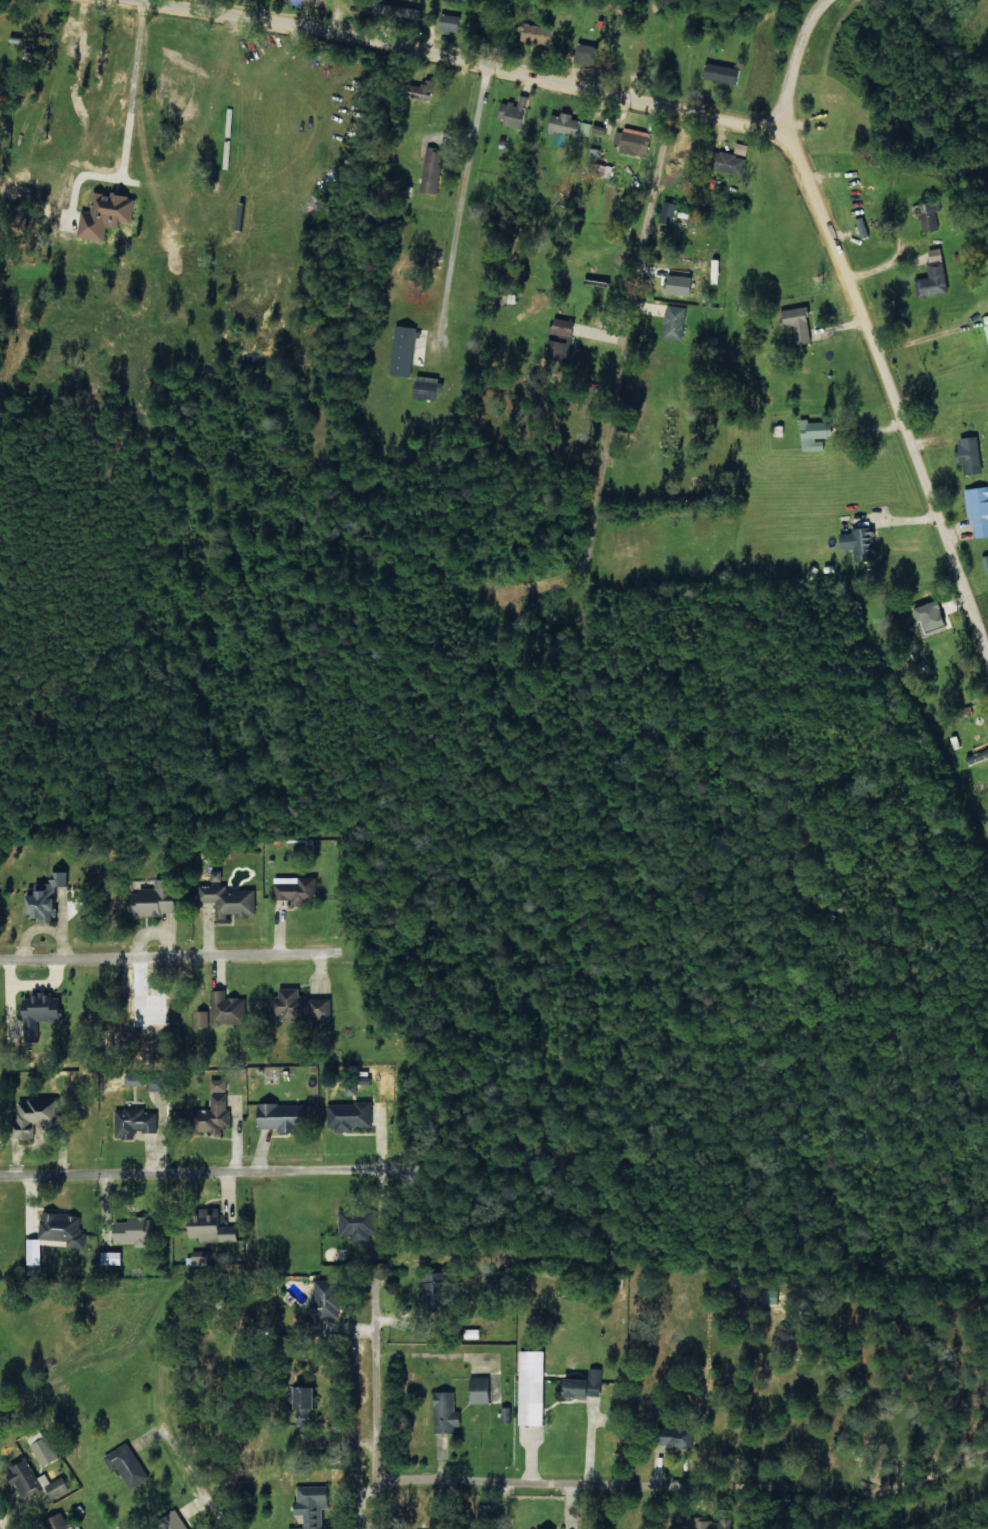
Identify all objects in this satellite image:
building: (399, 10)
building: (447, 22)
building: (536, 33)
building: (583, 54)
road: (799, 61)
road: (398, 62)
building: (719, 73)
building: (421, 91)
building: (512, 113)
building: (566, 125)
building: (633, 141)
building: (739, 148)
building: (726, 162)
building: (429, 170)
road: (459, 211)
building: (666, 212)
building: (108, 214)
building: (928, 215)
building: (933, 254)
building: (932, 281)
building: (677, 284)
road: (635, 291)
building: (673, 321)
building: (795, 323)
building: (985, 326)
building: (557, 338)
building: (402, 351)
road: (883, 383)
building: (426, 388)
building: (777, 430)
building: (812, 434)
building: (967, 455)
building: (977, 509)
building: (857, 542)
building: (985, 562)
building: (930, 610)
building: (214, 876)
building: (294, 890)
building: (41, 897)
building: (153, 899)
building: (229, 901)
building: (297, 1004)
building: (225, 1010)
building: (38, 1013)
building: (201, 1019)
building: (151, 1084)
building: (216, 1085)
building: (32, 1115)
building: (348, 1115)
building: (210, 1116)
building: (279, 1117)
building: (132, 1121)
building: (206, 1226)
building: (354, 1226)
building: (61, 1228)
building: (132, 1230)
building: (31, 1251)
building: (198, 1257)
building: (428, 1286)
road: (276, 1288)
building: (321, 1303)
building: (581, 1386)
building: (529, 1388)
building: (477, 1390)
road: (347, 1408)
building: (444, 1413)
building: (671, 1438)
road: (110, 1442)
building: (46, 1451)
building: (129, 1464)
building: (28, 1478)
building: (58, 1487)
building: (309, 1506)
road: (627, 1510)
building: (176, 1520)
building: (61, 1522)
building: (710, 1524)

